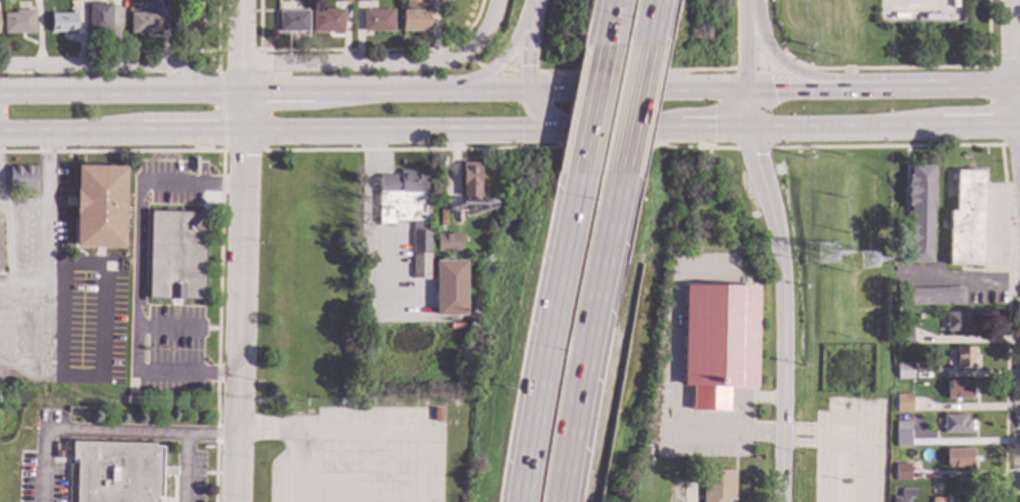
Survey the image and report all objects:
building: (433, 0)
building: (344, 1)
building: (361, 1)
road: (746, 3)
road: (532, 9)
power substation: (920, 11)
building: (415, 15)
building: (99, 17)
building: (327, 20)
building: (378, 20)
building: (19, 21)
building: (293, 21)
building: (63, 22)
building: (144, 22)
building: (186, 22)
road: (609, 22)
road: (649, 22)
street lamp: (626, 23)
road: (478, 40)
road: (745, 45)
road: (458, 51)
road: (530, 52)
road: (505, 55)
road: (775, 60)
road: (339, 61)
road: (476, 62)
road: (99, 68)
road: (492, 68)
road: (508, 71)
road: (527, 72)
road: (1011, 76)
road: (882, 81)
traffic signals: (745, 83)
road: (637, 84)
traffic signals: (530, 86)
road: (264, 87)
road: (746, 94)
road: (538, 109)
road: (592, 109)
road: (632, 109)
road: (222, 111)
traffic signals: (749, 126)
road: (509, 127)
traffic signals: (556, 127)
building: (22, 179)
building: (471, 181)
street lamp: (594, 187)
building: (100, 207)
building: (408, 213)
building: (920, 215)
road: (368, 217)
building: (967, 220)
building: (448, 242)
power tower: (830, 245)
road: (239, 250)
power tower: (878, 251)
building: (0, 255)
building: (177, 255)
road: (135, 277)
road: (50, 280)
road: (972, 283)
road: (3, 286)
building: (450, 287)
building: (932, 297)
road: (784, 301)
building: (959, 322)
road: (57, 329)
building: (718, 335)
road: (544, 336)
road: (587, 336)
building: (904, 336)
street lamp: (562, 343)
building: (965, 358)
building: (905, 371)
building: (960, 390)
road: (658, 391)
building: (903, 403)
building: (437, 415)
building: (693, 416)
building: (958, 424)
road: (364, 426)
road: (76, 430)
building: (903, 438)
road: (182, 440)
building: (958, 458)
road: (295, 463)
building: (119, 472)
building: (902, 472)
building: (718, 486)
building: (658, 489)
building: (905, 496)
building: (939, 500)
street lamp: (536, 501)

